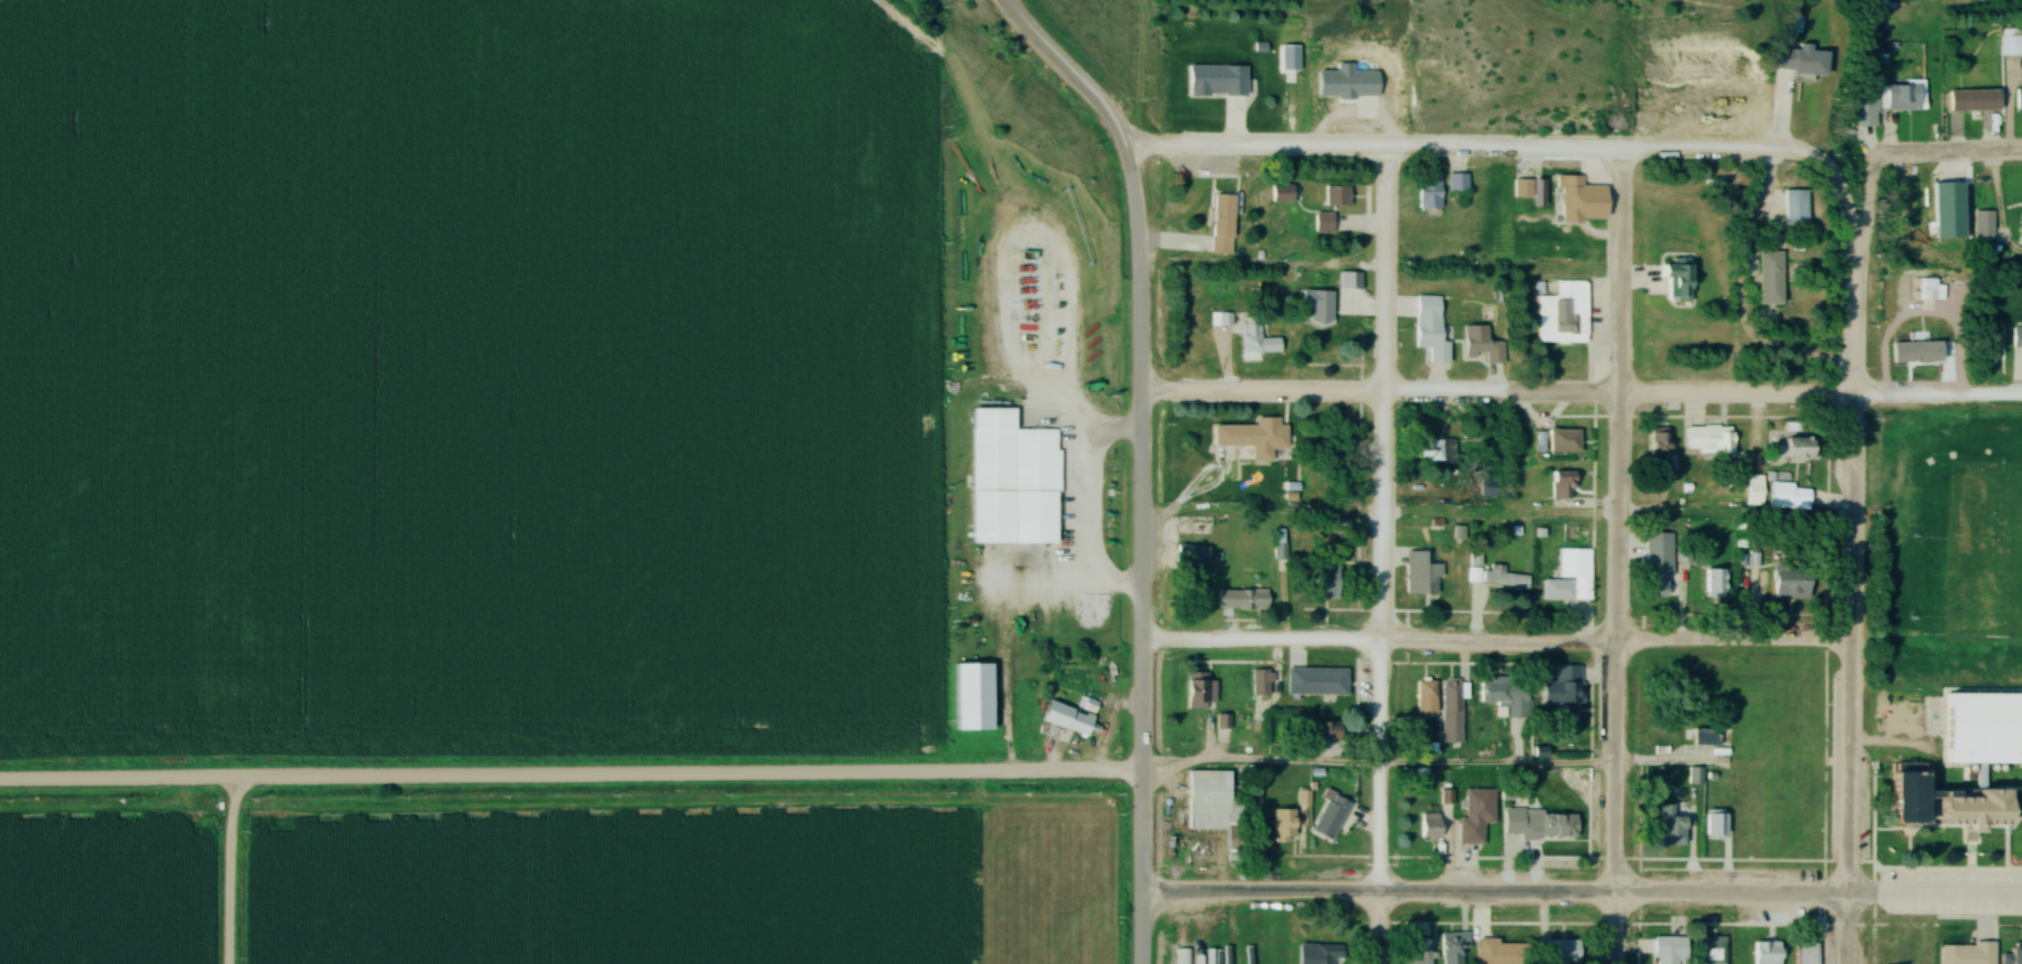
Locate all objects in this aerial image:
building: (2010, 44)
building: (1286, 57)
building: (1216, 81)
road: (1781, 85)
building: (1901, 96)
building: (2019, 99)
building: (1974, 101)
building: (1865, 108)
road: (1514, 152)
road: (1906, 156)
building: (1456, 181)
building: (1521, 187)
building: (1571, 190)
building: (1428, 191)
building: (1281, 193)
building: (1336, 195)
building: (1795, 206)
building: (1911, 210)
road: (1996, 210)
building: (1323, 222)
building: (1221, 224)
building: (1982, 225)
building: (2020, 238)
building: (1678, 276)
building: (1769, 276)
building: (1316, 306)
building: (1427, 307)
building: (1562, 309)
building: (1250, 336)
building: (2016, 337)
building: (1913, 340)
building: (1433, 341)
building: (1480, 345)
building: (1985, 350)
road: (1580, 397)
road: (1140, 425)
building: (1708, 439)
building: (1248, 440)
building: (1563, 440)
building: (1798, 445)
building: (1661, 449)
building: (1434, 450)
building: (1011, 480)
building: (1561, 484)
building: (1790, 498)
road: (1499, 521)
road: (1381, 524)
road: (1616, 526)
building: (1277, 543)
building: (1192, 555)
building: (1421, 573)
building: (1568, 575)
building: (1501, 577)
building: (1327, 580)
building: (1715, 582)
building: (1791, 583)
building: (1656, 584)
building: (1252, 599)
road: (1849, 601)
road: (1494, 643)
building: (1315, 681)
building: (1260, 683)
building: (1199, 691)
building: (1563, 692)
building: (1505, 695)
building: (972, 697)
building: (1425, 697)
building: (1450, 712)
building: (1066, 719)
building: (1984, 728)
building: (1327, 730)
building: (1705, 737)
building: (1762, 753)
road: (1377, 766)
road: (570, 781)
building: (1947, 804)
building: (1213, 806)
building: (1475, 815)
building: (1330, 817)
building: (1281, 824)
building: (1539, 824)
building: (1672, 824)
building: (1429, 825)
building: (1715, 825)
road: (228, 873)
road: (1580, 898)
road: (1138, 929)
road: (1376, 931)
road: (1614, 931)
building: (1452, 947)
building: (1666, 950)
building: (1711, 950)
building: (1420, 951)
building: (1500, 952)
building: (1563, 952)
building: (1766, 953)
building: (1805, 953)
building: (1965, 953)
building: (1314, 954)
building: (1180, 956)
building: (2012, 956)
building: (1202, 957)

